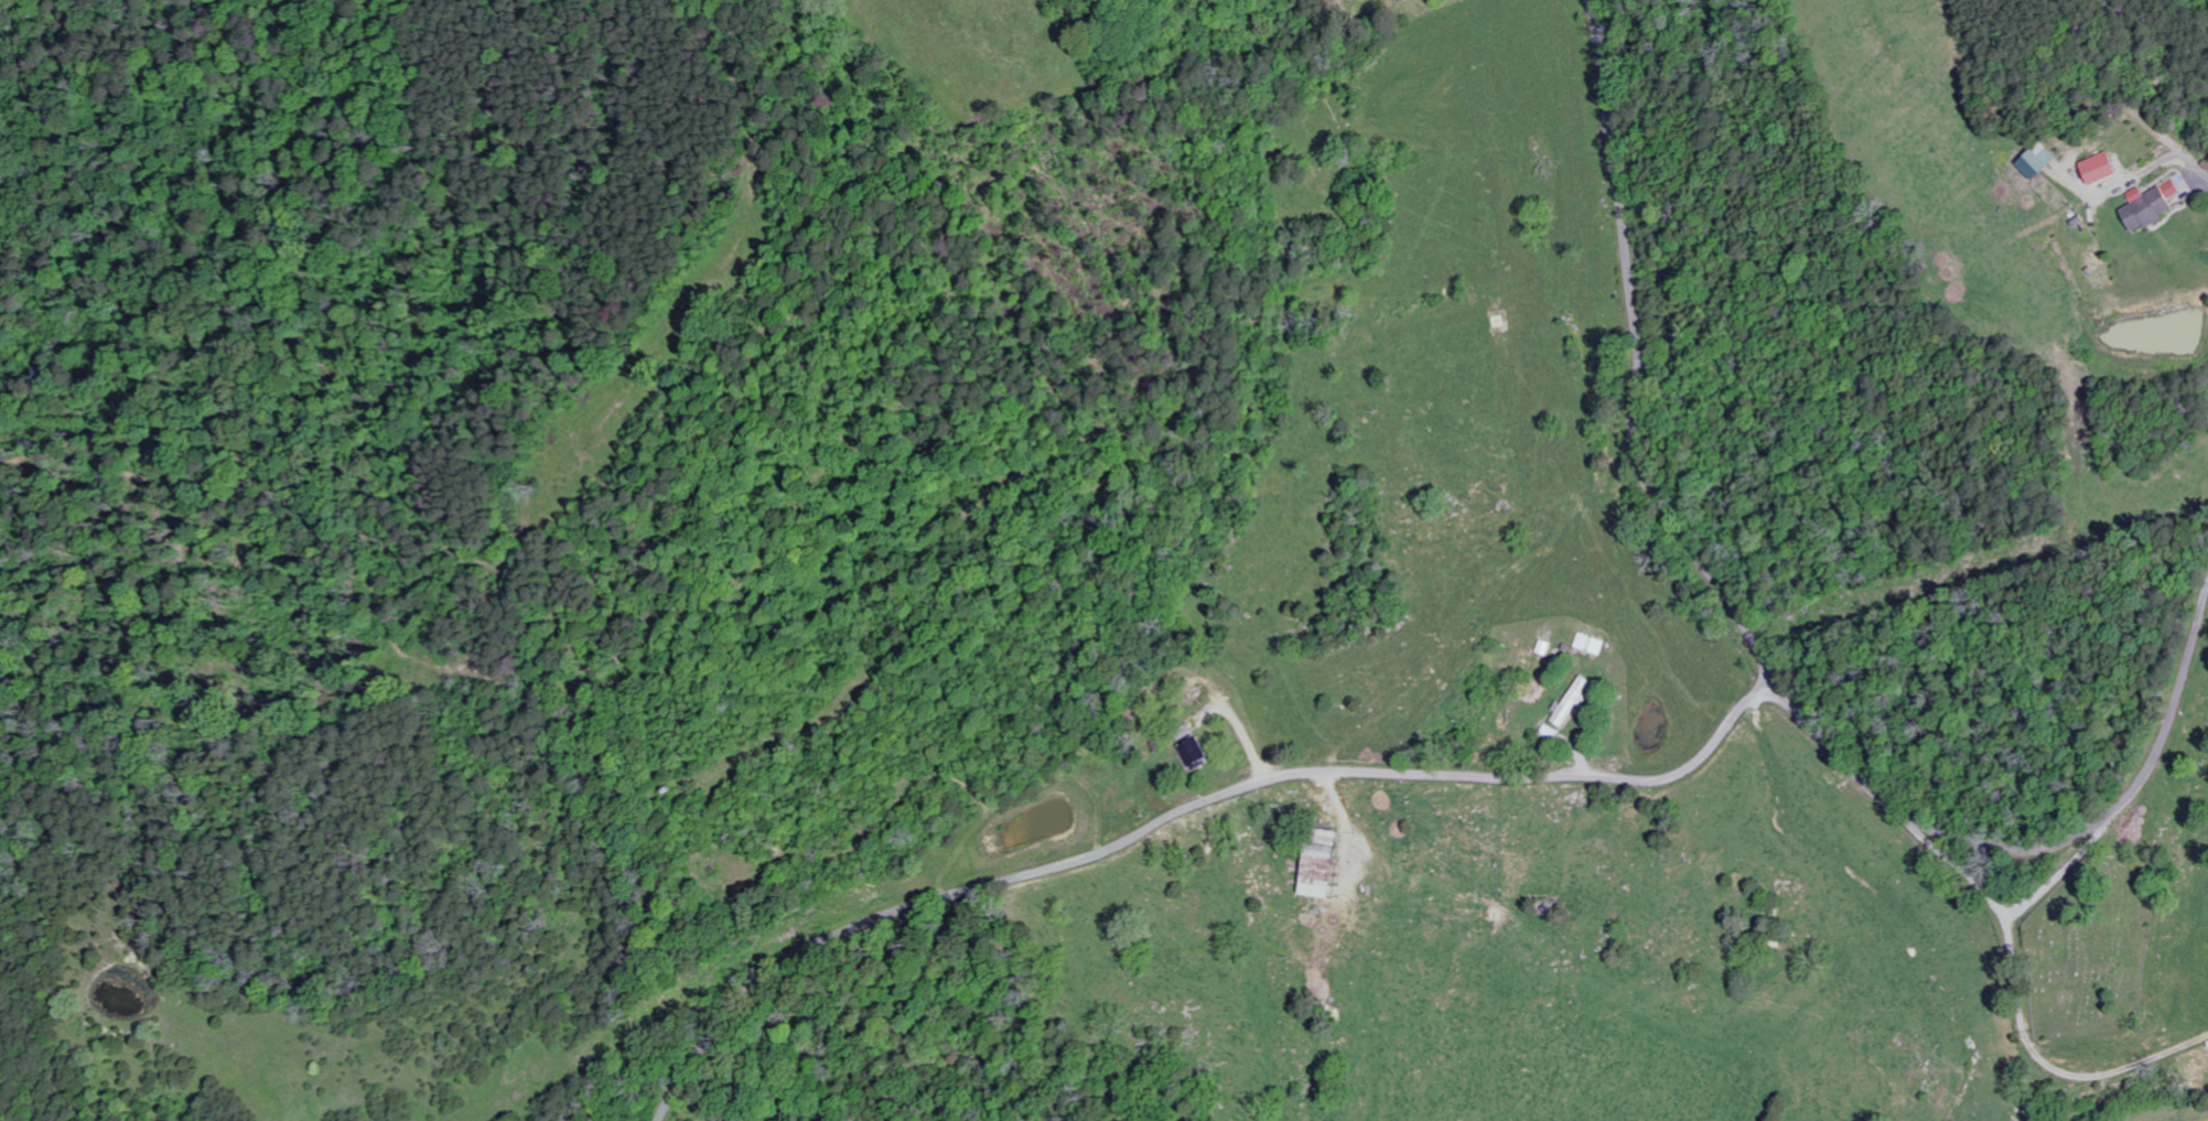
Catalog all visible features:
building: (2042, 161)
building: (2104, 168)
building: (2155, 205)
road: (1638, 360)
building: (1586, 640)
building: (1573, 699)
building: (1196, 752)
road: (1177, 812)
road: (2039, 848)
building: (1327, 862)
park: (2091, 944)

